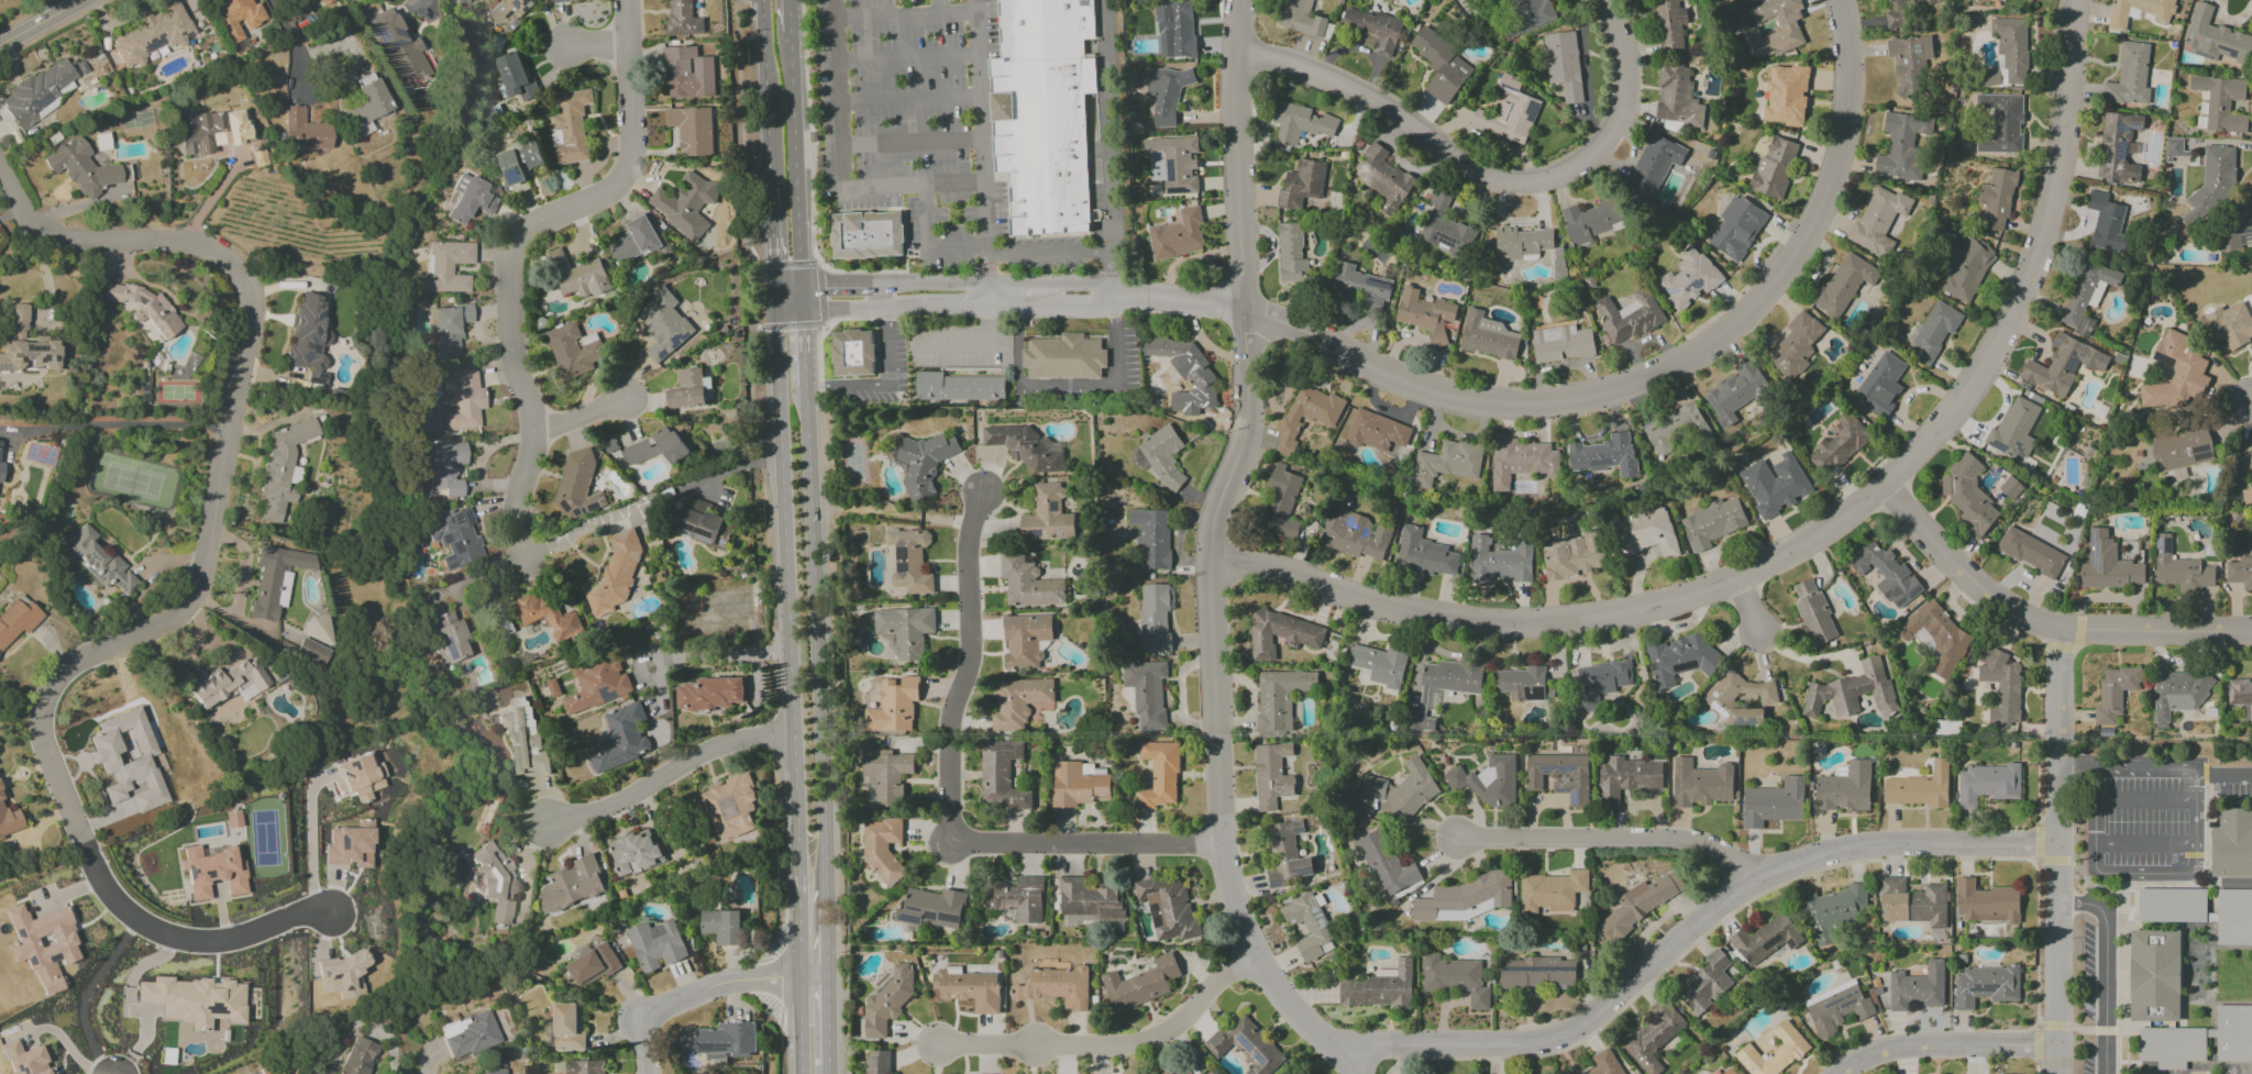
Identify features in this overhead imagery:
rooftop solar panel: (527, 1)
rooftop solar panel: (536, 1)
building: (562, 1)
road: (417, 2)
rooftop solar panel: (518, 3)
road: (939, 8)
rooftop solar panel: (527, 9)
building: (506, 10)
building: (1899, 12)
building: (1530, 13)
rooftop solar panel: (510, 14)
building: (236, 16)
road: (788, 16)
road: (905, 16)
building: (1300, 18)
building: (2117, 18)
building: (684, 20)
road: (41, 22)
building: (1669, 23)
building: (1174, 27)
building: (1044, 29)
building: (1372, 29)
building: (1788, 31)
rooftop solar panel: (183, 33)
rooftop solar panel: (397, 33)
building: (151, 34)
rooftop solar panel: (380, 34)
building: (2214, 37)
rooftop solar panel: (154, 43)
rooftop solar panel: (394, 44)
building: (399, 45)
road: (289, 46)
road: (595, 47)
building: (2007, 53)
road: (908, 57)
building: (1563, 64)
building: (1909, 64)
building: (1442, 67)
building: (687, 73)
building: (2129, 76)
building: (515, 77)
rooftop solar panel: (1508, 87)
building: (37, 93)
road: (763, 93)
building: (1166, 93)
building: (1786, 96)
building: (1676, 97)
rooftop solar panel: (43, 100)
building: (367, 101)
road: (910, 101)
building: (2221, 102)
rooftop solar panel: (1531, 111)
building: (1508, 112)
building: (1041, 114)
building: (1300, 123)
building: (2000, 124)
building: (570, 126)
parking lot: (919, 129)
rooftop solar panel: (2120, 129)
rooftop solar panel: (2135, 129)
building: (305, 131)
building: (694, 131)
building: (210, 132)
road: (1105, 142)
road: (912, 143)
building: (1902, 145)
building: (2118, 147)
rooftop solar panel: (2122, 147)
building: (2174, 147)
road: (795, 159)
building: (518, 160)
road: (842, 164)
building: (1173, 164)
building: (1652, 166)
building: (1774, 166)
building: (82, 167)
rooftop solar panel: (512, 177)
building: (1383, 178)
road: (1484, 180)
building: (1301, 185)
building: (2214, 186)
rooftop solar panel: (1174, 191)
building: (113, 193)
road: (209, 197)
building: (468, 199)
building: (1996, 200)
building: (684, 203)
building: (1048, 203)
road: (984, 207)
building: (1877, 218)
building: (1589, 221)
building: (2106, 223)
building: (1445, 228)
building: (1736, 228)
building: (2232, 233)
rooftop solar panel: (2247, 233)
road: (769, 235)
building: (868, 235)
building: (1177, 235)
building: (634, 240)
building: (1521, 243)
road: (929, 244)
road: (514, 250)
road: (1046, 252)
building: (1290, 254)
traffic signals: (771, 262)
building: (448, 266)
building: (1967, 269)
building: (577, 276)
building: (1689, 278)
road: (926, 283)
road: (1015, 284)
road: (1083, 284)
rooftop solar panel: (1697, 284)
building: (1844, 284)
road: (818, 285)
traffic signals: (824, 285)
building: (1359, 287)
rooftop solar panel: (1686, 288)
rooftop solar panel: (1671, 291)
building: (2087, 295)
road: (802, 298)
road: (1115, 301)
rooftop solar panel: (319, 305)
building: (145, 307)
road: (859, 309)
road: (953, 309)
road: (1026, 309)
road: (1086, 309)
traffic signals: (826, 310)
road: (787, 311)
building: (1425, 314)
rooftop solar panel: (318, 315)
building: (1629, 315)
building: (2231, 323)
building: (663, 325)
rooftop solar panel: (316, 329)
building: (450, 329)
building: (1934, 331)
traffic signals: (802, 332)
road: (887, 334)
building: (1488, 336)
rooftop solar panel: (674, 337)
building: (308, 339)
rooftop solar panel: (312, 340)
building: (1561, 343)
rooftop solar panel: (308, 344)
building: (26, 345)
building: (1796, 345)
rooftop solar panel: (317, 348)
road: (802, 348)
rooftop solar panel: (35, 350)
building: (571, 351)
building: (853, 353)
rooftop solar panel: (661, 355)
parking lot: (901, 355)
rooftop solar panel: (307, 356)
building: (1063, 357)
rooftop solar panel: (54, 359)
rooftop solar panel: (22, 361)
rooftop solar panel: (2164, 361)
rooftop solar panel: (44, 362)
building: (1185, 365)
building: (2062, 365)
building: (2175, 374)
road: (846, 385)
building: (1879, 386)
building: (958, 387)
road: (1064, 387)
building: (686, 389)
road: (1608, 390)
building: (1735, 392)
building: (462, 400)
building: (1305, 416)
road: (575, 417)
road: (120, 427)
building: (1676, 429)
building: (2013, 429)
building: (1376, 431)
building: (1837, 444)
building: (654, 447)
building: (1026, 447)
rooftop solar panel: (1997, 447)
rooftop solar panel: (2018, 449)
building: (2181, 449)
rooftop solar panel: (2200, 449)
building: (1160, 455)
building: (1604, 455)
building: (2250, 457)
rooftop solar panel: (2200, 458)
building: (1521, 461)
building: (924, 463)
building: (1446, 463)
building: (446, 467)
road: (727, 467)
building: (281, 468)
building: (1, 470)
building: (1774, 484)
building: (578, 485)
building: (2010, 487)
building: (1968, 496)
building: (1281, 505)
rooftop solar panel: (593, 506)
rooftop solar panel: (565, 509)
rooftop solar panel: (582, 510)
rooftop solar panel: (575, 511)
building: (1047, 516)
rooftop solar panel: (455, 517)
rooftop solar panel: (459, 519)
rooftop solar panel: (461, 522)
building: (1712, 522)
building: (703, 524)
building: (1354, 531)
building: (1645, 532)
road: (579, 533)
rooftop solar panel: (689, 533)
building: (454, 536)
building: (1151, 536)
road: (1811, 538)
rooftop solar panel: (446, 539)
rooftop solar panel: (2094, 539)
rooftop solar panel: (720, 542)
rooftop solar panel: (2159, 543)
rooftop solar panel: (2168, 543)
rooftop solar panel: (2167, 550)
building: (2030, 552)
rooftop solar panel: (899, 553)
rooftop solar panel: (76, 554)
building: (1423, 554)
road: (1212, 555)
building: (1572, 555)
rooftop solar panel: (91, 557)
rooftop solar panel: (2162, 560)
building: (99, 561)
building: (909, 561)
building: (1499, 561)
rooftop solar panel: (2096, 561)
building: (2107, 564)
rooftop solar panel: (899, 567)
building: (2178, 568)
building: (2240, 573)
building: (615, 574)
building: (1886, 574)
rooftop solar panel: (98, 576)
road: (783, 576)
building: (275, 579)
building: (1028, 583)
rooftop solar panel: (120, 585)
rooftop solar panel: (132, 588)
road: (187, 601)
building: (1813, 612)
rooftop solar panel: (1924, 612)
building: (542, 613)
building: (1153, 616)
building: (16, 619)
road: (2042, 620)
rooftop solar panel: (1924, 623)
rooftop solar panel: (1908, 625)
rooftop solar panel: (1931, 627)
rooftop solar panel: (1916, 629)
building: (905, 630)
building: (446, 633)
building: (1280, 633)
building: (1935, 636)
building: (1025, 640)
road: (1769, 642)
building: (313, 652)
road: (720, 653)
building: (1679, 657)
building: (1379, 664)
road: (815, 682)
building: (224, 683)
building: (1598, 683)
building: (597, 684)
building: (1520, 684)
building: (2000, 685)
building: (1444, 687)
building: (1146, 691)
building: (1853, 691)
building: (2113, 693)
building: (709, 694)
rooftop solar panel: (606, 695)
rooftop solar panel: (1714, 695)
building: (2177, 695)
building: (1720, 696)
building: (1279, 698)
building: (2241, 698)
building: (1020, 702)
building: (893, 706)
rooftop solar panel: (1719, 709)
rooftop solar panel: (1745, 723)
building: (523, 738)
building: (621, 739)
building: (126, 759)
road: (2078, 767)
building: (1092, 769)
road: (666, 774)
building: (1159, 774)
building: (885, 775)
building: (1001, 775)
building: (1271, 775)
building: (1559, 775)
road: (2223, 775)
building: (360, 777)
building: (1626, 778)
building: (1488, 780)
building: (1701, 783)
building: (1986, 784)
building: (1078, 785)
building: (1920, 787)
building: (1845, 788)
building: (1402, 790)
road: (2145, 799)
road: (949, 800)
building: (1773, 802)
building: (730, 806)
parking lot: (2150, 812)
building: (9, 822)
road: (2206, 829)
road: (1610, 839)
road: (2145, 842)
building: (2232, 842)
building: (350, 845)
road: (310, 846)
road: (2057, 851)
building: (634, 852)
building: (1287, 853)
building: (1386, 864)
road: (2190, 871)
building: (212, 872)
rooftop solar panel: (1305, 872)
rooftop solar panel: (1257, 881)
road: (2229, 883)
building: (571, 884)
building: (497, 885)
rooftop solar panel: (1277, 887)
building: (1552, 892)
building: (1016, 898)
building: (1466, 898)
building: (1985, 901)
building: (1912, 903)
building: (1089, 904)
building: (1637, 906)
building: (931, 907)
rooftop solar panel: (1153, 907)
building: (1168, 908)
rooftop solar panel: (1313, 910)
building: (2201, 910)
building: (1834, 911)
rooftop solar panel: (1155, 915)
rooftop solar panel: (1317, 916)
road: (793, 923)
rooftop solar panel: (1155, 923)
building: (719, 926)
building: (1309, 926)
road: (2167, 926)
rooftop solar panel: (1320, 928)
road: (1690, 933)
building: (1765, 939)
rooftop solar panel: (1768, 941)
building: (43, 944)
building: (654, 944)
rooftop solar panel: (1789, 944)
road: (2124, 957)
building: (593, 964)
road: (2106, 968)
building: (1536, 972)
building: (342, 975)
building: (2155, 975)
building: (1455, 978)
building: (1140, 983)
building: (1705, 984)
building: (1984, 985)
building: (1053, 986)
building: (1379, 987)
building: (1917, 987)
building: (969, 988)
rooftop solar panel: (1985, 989)
road: (702, 992)
parking lot: (2099, 995)
building: (197, 1004)
building: (885, 1004)
building: (1836, 1007)
road: (826, 1022)
road: (795, 1026)
road: (2167, 1028)
road: (2089, 1030)
building: (467, 1034)
building: (1653, 1034)
road: (2210, 1036)
building: (726, 1040)
building: (2198, 1040)
road: (1108, 1044)
rooftop solar panel: (1245, 1045)
building: (1246, 1045)
road: (1942, 1047)
building: (1774, 1052)
building: (355, 1058)
rooftop solar panel: (1261, 1058)
building: (24, 1059)
building: (876, 1062)
building: (1604, 1063)
building: (584, 1066)
building: (1171, 1070)
building: (492, 1071)
road: (827, 1071)
building: (1210, 1072)
building: (1727, 1072)

